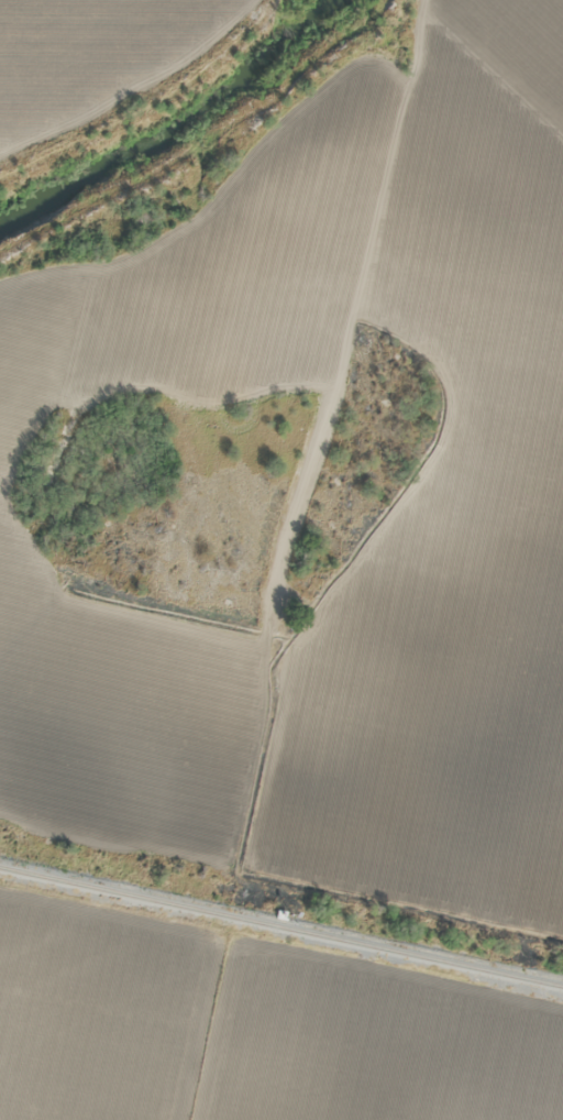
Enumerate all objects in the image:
railway: (280, 926)

